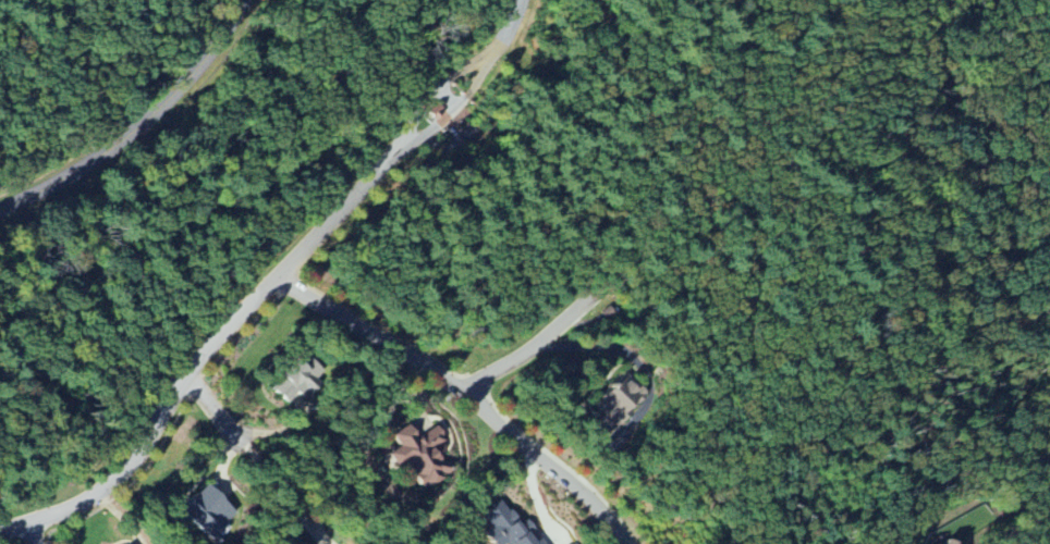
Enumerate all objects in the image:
road: (510, 35)
road: (435, 94)
road: (450, 98)
road: (455, 112)
building: (445, 119)
road: (142, 127)
road: (211, 161)
road: (560, 346)
road: (210, 355)
building: (295, 373)
road: (467, 395)
building: (619, 404)
road: (215, 408)
building: (418, 452)
road: (283, 492)
building: (208, 511)
building: (505, 528)
road: (33, 533)
building: (948, 542)

